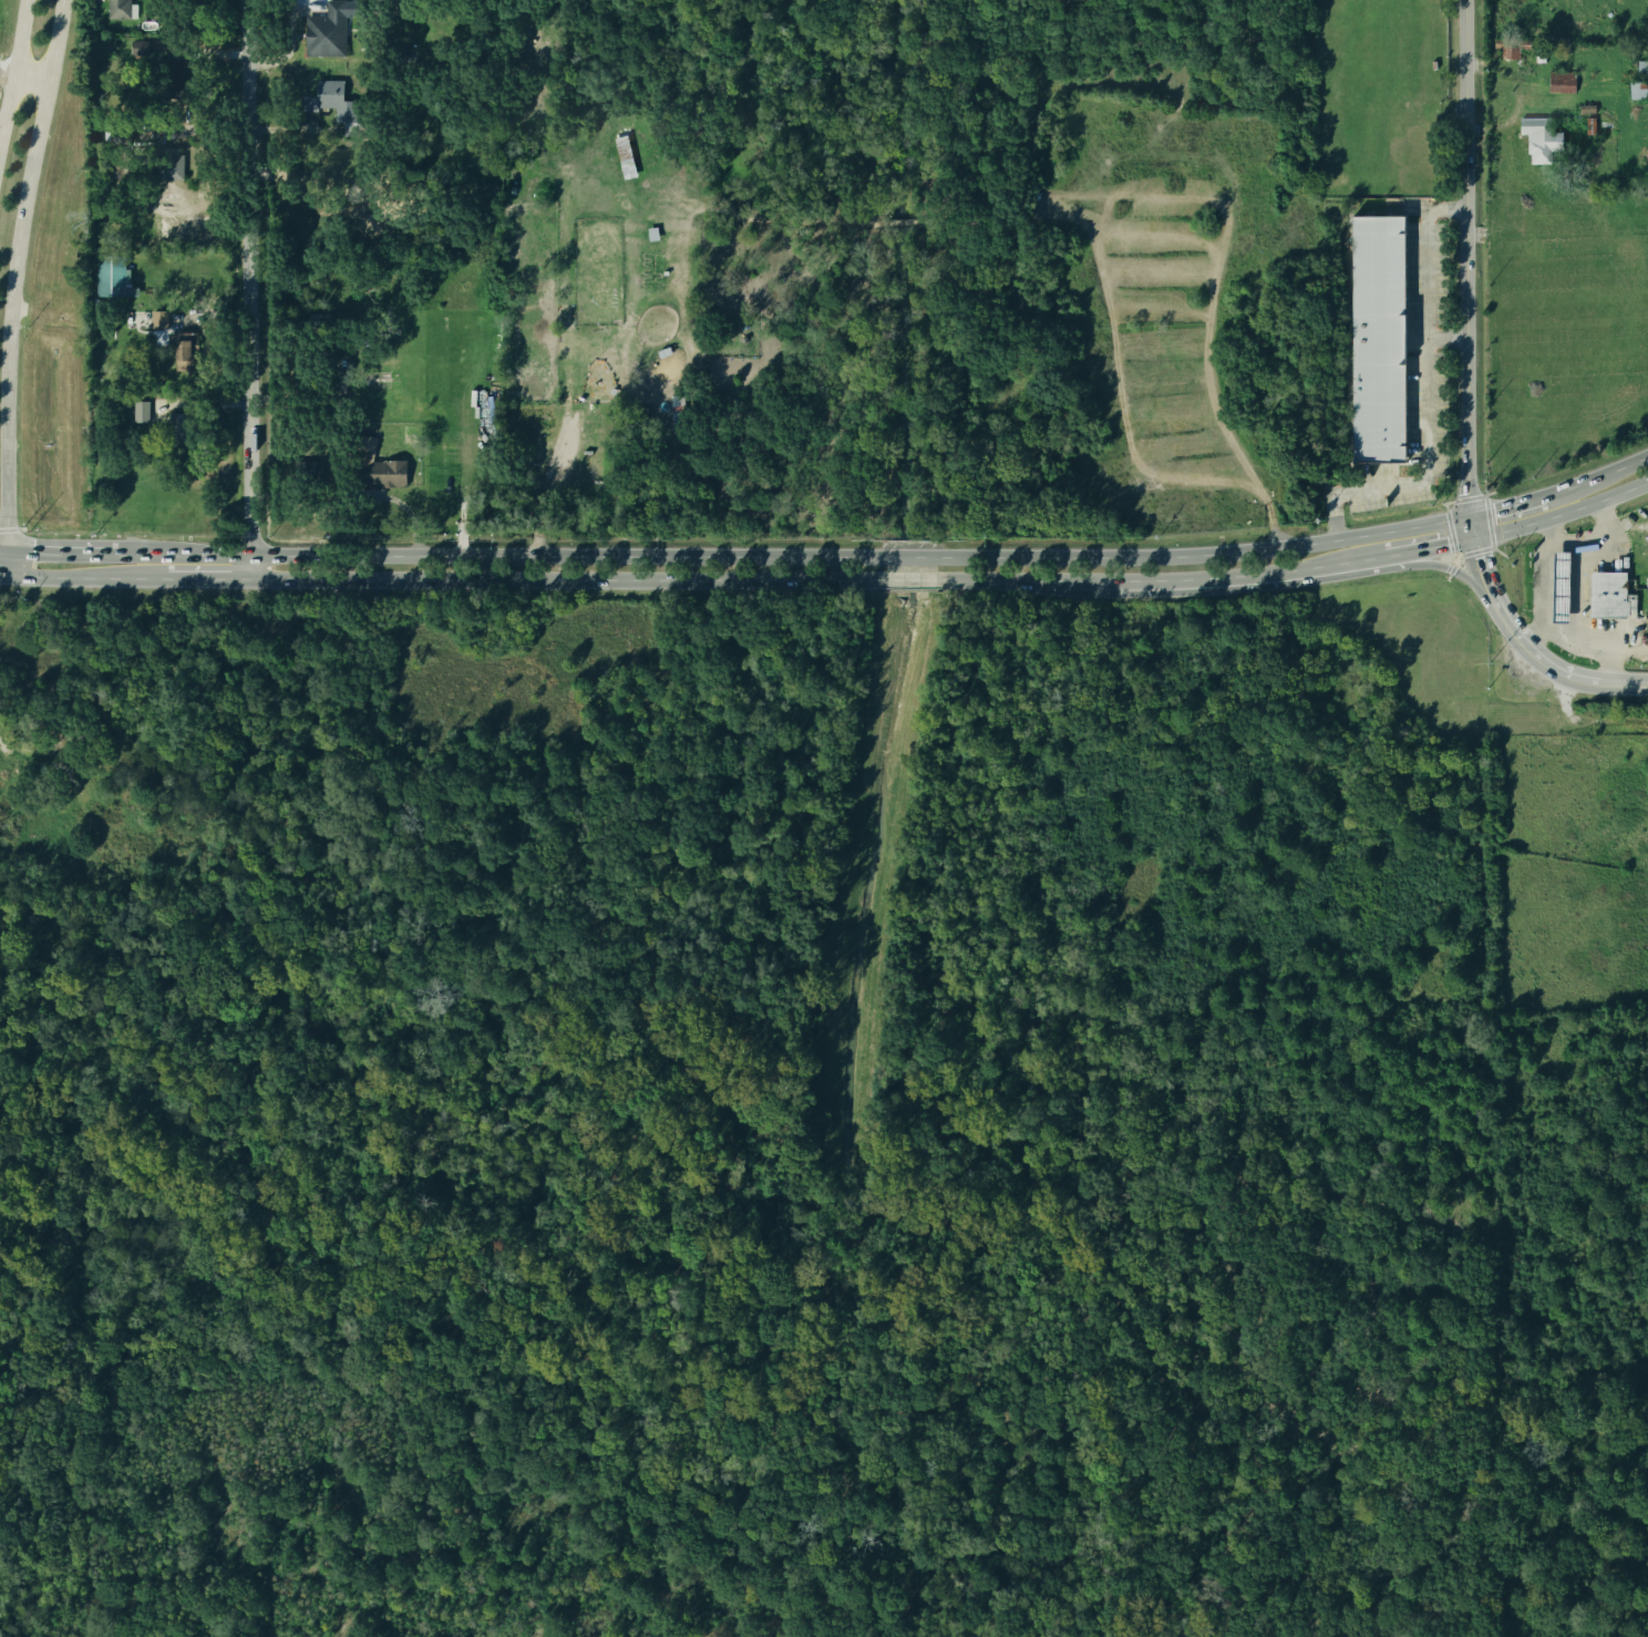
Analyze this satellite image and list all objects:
building: (1632, 1)
building: (120, 9)
building: (326, 31)
building: (1510, 47)
building: (140, 48)
building: (1539, 52)
building: (176, 58)
road: (1496, 61)
road: (12, 62)
building: (1636, 65)
road: (29, 72)
building: (1561, 81)
road: (1521, 85)
building: (1637, 89)
building: (331, 100)
building: (1585, 107)
building: (1589, 125)
building: (158, 132)
building: (1538, 138)
building: (624, 156)
building: (169, 163)
building: (692, 186)
road: (1411, 206)
road: (1423, 214)
street lamp: (1438, 218)
building: (651, 233)
road: (1465, 257)
road: (13, 274)
building: (113, 276)
road: (251, 290)
building: (159, 319)
road: (1444, 334)
building: (1378, 339)
street lamp: (1439, 347)
building: (184, 349)
building: (662, 351)
parking lot: (1414, 382)
road: (1423, 399)
building: (614, 408)
building: (141, 410)
building: (677, 410)
building: (635, 425)
building: (183, 430)
building: (409, 433)
road: (559, 455)
building: (372, 462)
road: (1595, 475)
road: (354, 494)
road: (1505, 504)
street lamp: (1429, 508)
traffic signals: (1470, 514)
road: (1563, 514)
road: (1331, 517)
road: (1471, 521)
road: (347, 524)
road: (21, 528)
road: (9, 529)
street lamp: (1580, 529)
traffic signals: (1474, 536)
road: (1592, 543)
road: (1433, 544)
road: (2, 550)
traffic signals: (4, 552)
road: (59, 552)
road: (793, 556)
road: (4, 563)
road: (1446, 566)
road: (2, 574)
road: (1256, 574)
traffic signals: (6, 575)
road: (87, 576)
road: (209, 579)
road: (682, 580)
road: (1575, 586)
gas station: (1559, 587)
road: (1541, 589)
building: (1610, 595)
road: (1594, 634)
road: (1528, 642)
street lamp: (1549, 644)
street lamp: (1587, 659)
road: (1589, 722)
building: (105, 764)
road: (53, 765)
building: (6, 776)
building: (131, 802)
building: (38, 838)

